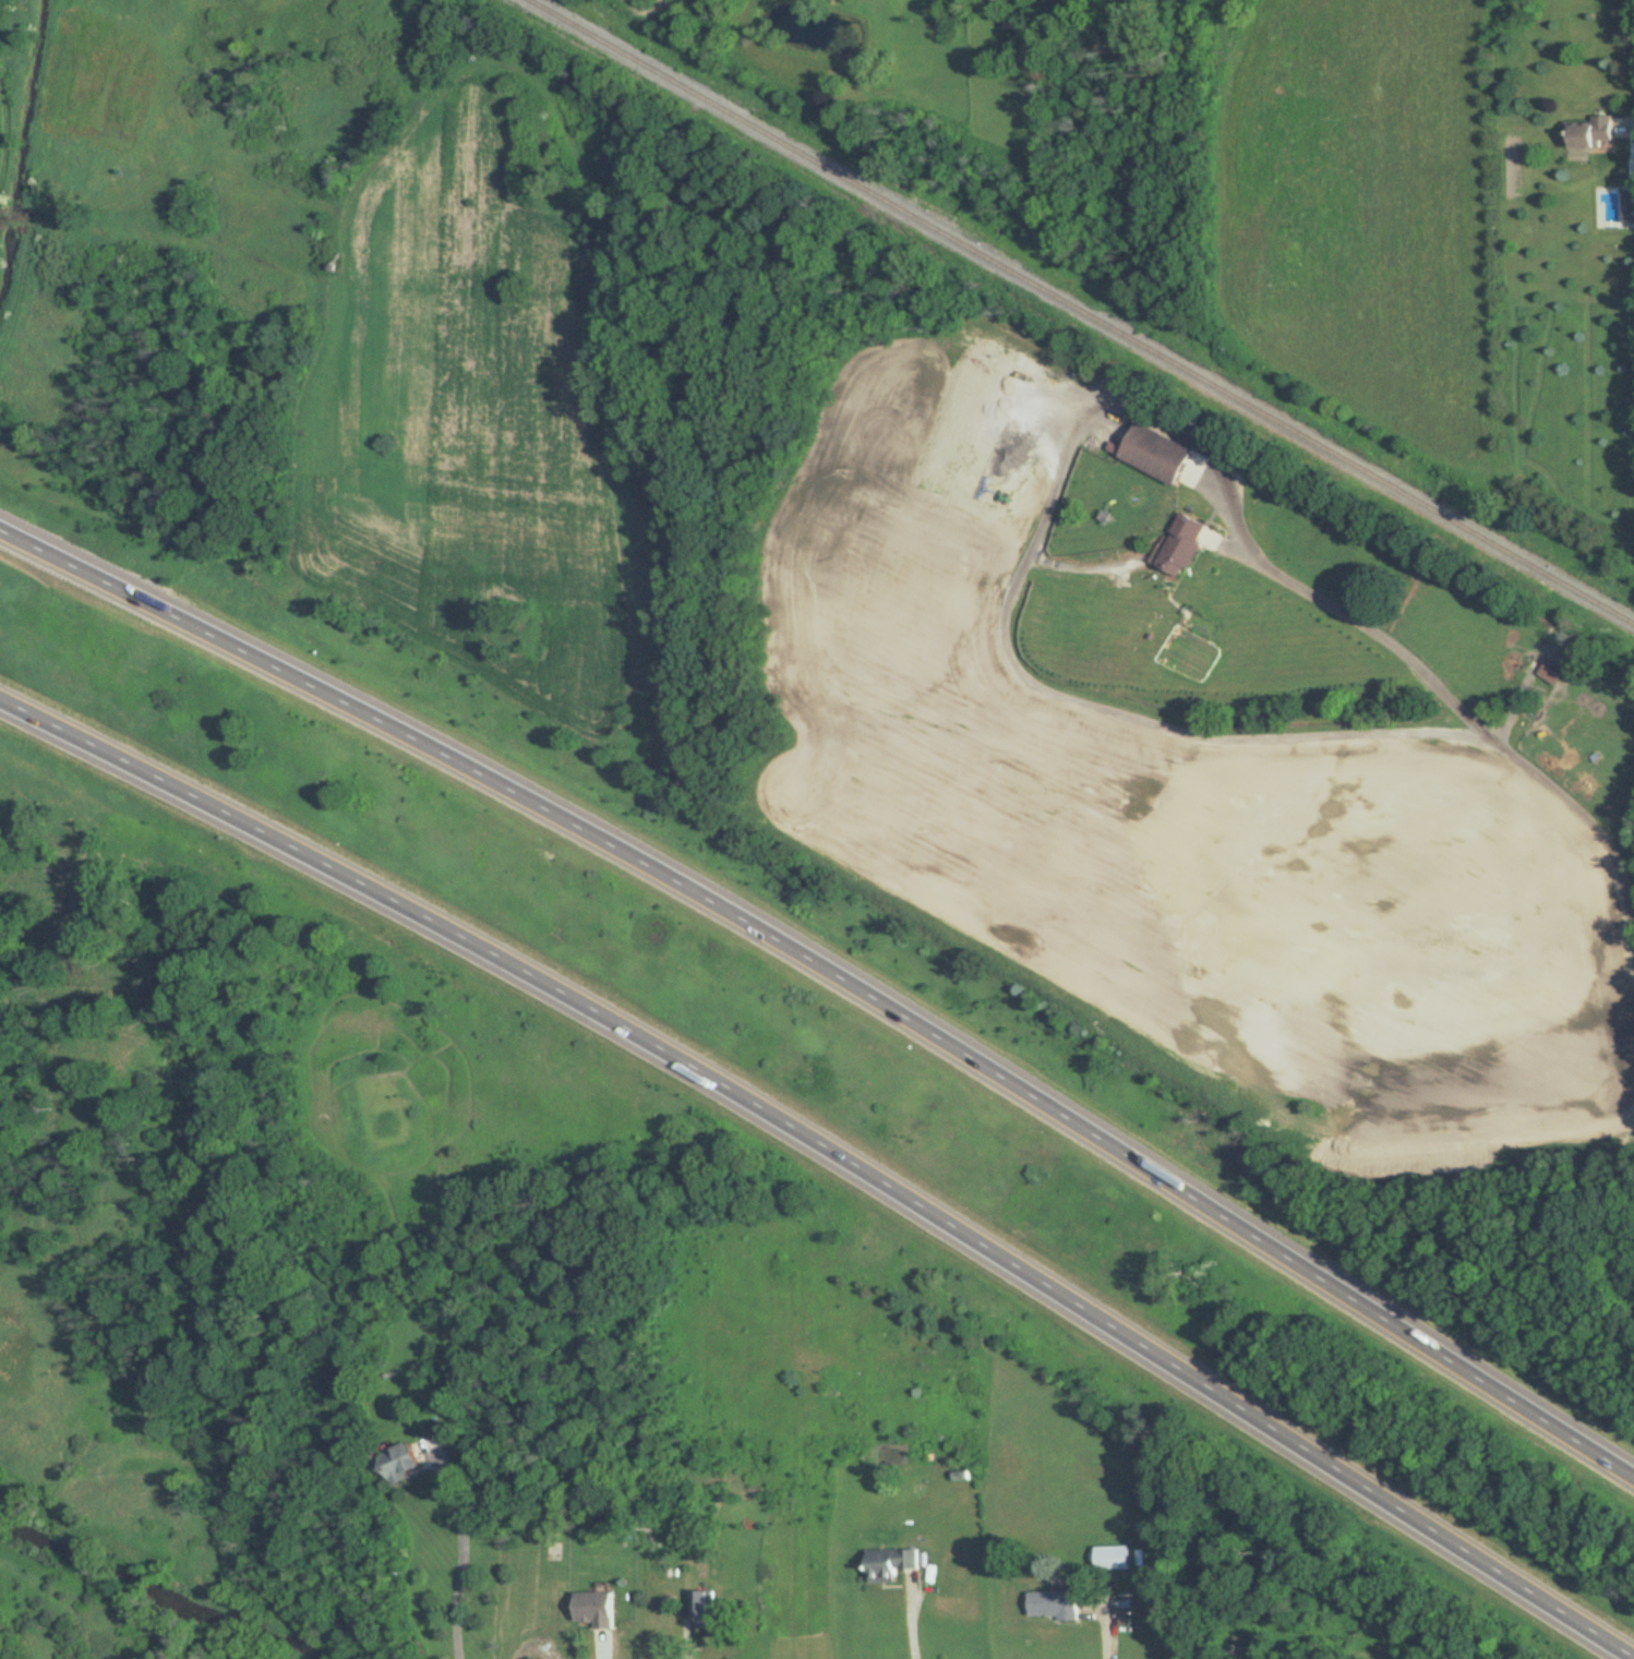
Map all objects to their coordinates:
road: (1633, 2)
building: (1009, 21)
building: (820, 22)
building: (1588, 134)
building: (1629, 206)
railway: (1078, 314)
building: (1153, 454)
building: (1180, 545)
road: (1468, 718)
road: (836, 969)
road: (829, 1157)
building: (395, 1464)
road: (467, 1548)
building: (1112, 1558)
building: (889, 1564)
building: (1053, 1603)
building: (594, 1608)
building: (700, 1609)
road: (912, 1616)

